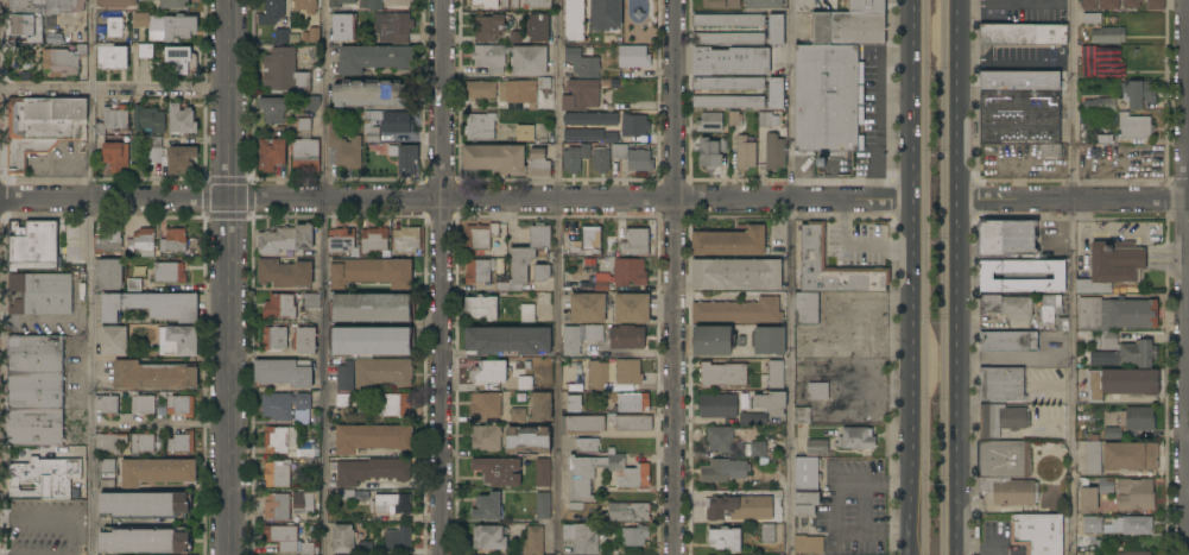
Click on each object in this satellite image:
building: (146, 0)
building: (115, 2)
building: (397, 2)
building: (172, 4)
building: (485, 4)
building: (505, 4)
building: (514, 4)
building: (536, 4)
building: (721, 4)
building: (763, 4)
building: (1100, 4)
building: (1131, 4)
building: (342, 5)
building: (371, 5)
building: (1156, 5)
building: (308, 6)
building: (866, 6)
building: (271, 12)
building: (606, 14)
building: (36, 17)
building: (1092, 19)
building: (140, 20)
building: (574, 20)
building: (114, 27)
building: (172, 27)
building: (343, 27)
building: (394, 27)
building: (488, 27)
building: (538, 27)
building: (773, 29)
building: (847, 29)
building: (1019, 33)
building: (314, 34)
building: (1107, 34)
building: (286, 36)
building: (145, 51)
building: (1088, 51)
building: (112, 56)
building: (632, 56)
building: (373, 58)
building: (512, 58)
building: (182, 59)
building: (67, 61)
building: (731, 61)
building: (582, 63)
building: (1103, 65)
building: (284, 71)
building: (544, 82)
road: (112, 88)
building: (480, 89)
building: (518, 93)
building: (774, 93)
building: (1136, 93)
building: (371, 94)
building: (581, 95)
building: (828, 97)
road: (1071, 100)
building: (311, 102)
building: (1106, 105)
building: (1019, 107)
building: (273, 108)
building: (372, 114)
building: (734, 118)
building: (147, 119)
building: (181, 119)
building: (590, 119)
building: (765, 119)
building: (113, 120)
building: (396, 122)
building: (709, 122)
building: (303, 124)
building: (633, 125)
building: (480, 126)
building: (1134, 126)
building: (40, 127)
building: (372, 133)
building: (524, 133)
building: (583, 134)
building: (612, 138)
building: (342, 146)
building: (153, 150)
building: (1045, 150)
building: (619, 151)
building: (773, 151)
building: (710, 152)
building: (745, 152)
building: (271, 154)
building: (115, 156)
building: (305, 156)
building: (575, 157)
building: (404, 158)
building: (179, 159)
building: (505, 159)
building: (600, 160)
building: (639, 160)
road: (1070, 181)
road: (571, 197)
road: (115, 200)
road: (1074, 200)
building: (480, 235)
building: (285, 239)
building: (1006, 239)
building: (173, 240)
building: (340, 240)
building: (373, 240)
building: (406, 240)
building: (107, 241)
building: (587, 241)
building: (634, 241)
building: (143, 242)
building: (729, 242)
road: (854, 244)
building: (32, 245)
building: (812, 246)
building: (525, 258)
road: (1166, 260)
building: (1111, 266)
building: (543, 269)
building: (476, 271)
building: (630, 271)
building: (169, 272)
building: (283, 272)
building: (371, 272)
building: (108, 275)
building: (735, 275)
building: (985, 276)
road: (91, 277)
road: (230, 277)
road: (324, 277)
road: (442, 277)
road: (557, 277)
road: (672, 277)
road: (790, 277)
road: (911, 277)
railway: (925, 277)
railway: (944, 277)
road: (961, 277)
road: (1187, 277)
building: (601, 282)
building: (40, 294)
building: (311, 301)
building: (150, 304)
building: (1006, 305)
building: (279, 307)
building: (368, 307)
building: (481, 307)
building: (1049, 307)
building: (587, 308)
building: (631, 308)
building: (805, 308)
building: (736, 311)
building: (527, 313)
building: (1115, 314)
building: (594, 333)
building: (1083, 336)
building: (626, 338)
building: (273, 339)
building: (177, 340)
building: (769, 340)
building: (113, 341)
building: (304, 341)
building: (506, 341)
building: (571, 341)
building: (711, 341)
building: (1007, 341)
building: (368, 342)
building: (1121, 352)
building: (34, 354)
road: (1008, 359)
building: (381, 372)
building: (488, 372)
building: (284, 373)
building: (613, 373)
building: (722, 374)
building: (776, 374)
building: (153, 376)
building: (344, 376)
road: (1071, 378)
building: (525, 383)
building: (1120, 383)
building: (1000, 384)
building: (34, 391)
building: (817, 391)
building: (342, 401)
building: (632, 402)
building: (770, 403)
building: (107, 404)
building: (143, 404)
building: (392, 404)
building: (575, 404)
building: (179, 405)
building: (283, 405)
building: (485, 405)
building: (717, 405)
building: (540, 406)
building: (518, 415)
building: (802, 416)
building: (752, 418)
building: (1000, 420)
building: (1132, 421)
building: (633, 423)
road: (162, 424)
building: (582, 424)
building: (33, 428)
building: (372, 437)
building: (485, 437)
building: (720, 439)
building: (856, 439)
building: (274, 440)
building: (527, 440)
building: (109, 442)
building: (141, 442)
building: (181, 442)
building: (587, 446)
building: (817, 448)
building: (753, 449)
building: (1092, 455)
building: (1043, 456)
building: (1131, 456)
building: (157, 471)
building: (369, 471)
building: (498, 471)
building: (722, 471)
building: (543, 472)
building: (1005, 472)
building: (107, 473)
building: (277, 473)
building: (632, 473)
building: (807, 473)
building: (44, 478)
building: (1105, 486)
building: (344, 494)
building: (1134, 494)
building: (1087, 497)
building: (303, 499)
building: (805, 503)
building: (392, 504)
building: (145, 505)
building: (543, 505)
building: (277, 506)
road: (836, 506)
road: (860, 506)
building: (486, 507)
building: (738, 507)
building: (628, 512)
building: (1092, 524)
building: (1133, 525)
building: (767, 534)
building: (1038, 534)
building: (489, 537)
building: (342, 538)
building: (581, 538)
building: (725, 538)
building: (144, 540)
building: (286, 540)
building: (633, 540)
building: (533, 541)
building: (387, 542)
building: (808, 544)
road: (982, 553)
building: (1133, 553)

